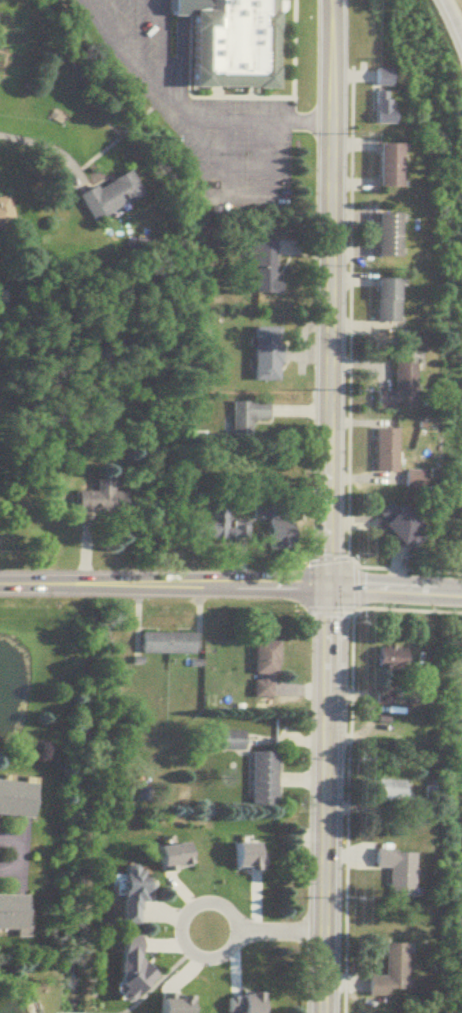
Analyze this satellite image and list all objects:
road: (164, 11)
road: (449, 29)
road: (163, 38)
building: (223, 43)
road: (179, 50)
road: (165, 93)
road: (286, 94)
road: (180, 97)
building: (380, 97)
parking lot: (202, 112)
road: (234, 122)
road: (305, 122)
road: (37, 142)
road: (228, 158)
building: (385, 167)
road: (268, 177)
building: (106, 197)
building: (3, 215)
building: (384, 237)
building: (260, 269)
road: (328, 292)
building: (384, 302)
building: (263, 355)
building: (397, 390)
building: (245, 417)
building: (384, 451)
building: (95, 498)
building: (218, 527)
building: (401, 531)
building: (275, 536)
road: (164, 583)
traffic signals: (328, 586)
road: (395, 589)
building: (163, 643)
building: (388, 659)
building: (261, 669)
building: (229, 741)
building: (260, 779)
building: (388, 790)
building: (15, 799)
road: (324, 799)
road: (15, 852)
building: (168, 856)
building: (394, 871)
building: (129, 895)
building: (11, 915)
road: (179, 931)
road: (277, 934)
building: (126, 967)
building: (387, 973)

